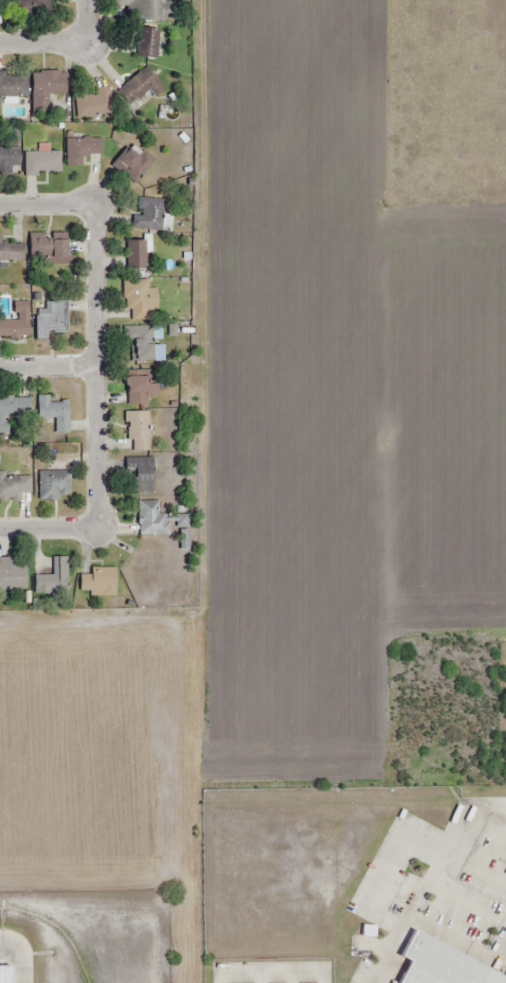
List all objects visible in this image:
building: (144, 7)
building: (45, 10)
road: (93, 21)
road: (47, 43)
building: (147, 43)
building: (140, 86)
building: (11, 88)
building: (44, 91)
building: (93, 105)
building: (79, 151)
building: (9, 157)
building: (40, 163)
building: (130, 166)
road: (46, 199)
building: (148, 214)
building: (47, 245)
building: (12, 253)
building: (135, 255)
building: (137, 299)
building: (50, 321)
building: (17, 323)
building: (140, 343)
road: (48, 362)
road: (97, 362)
building: (138, 388)
building: (11, 414)
building: (55, 415)
building: (136, 431)
building: (141, 474)
building: (53, 486)
building: (13, 488)
building: (151, 520)
road: (50, 527)
building: (10, 575)
building: (51, 579)
building: (98, 583)
building: (442, 963)
road: (272, 972)
building: (8, 973)

